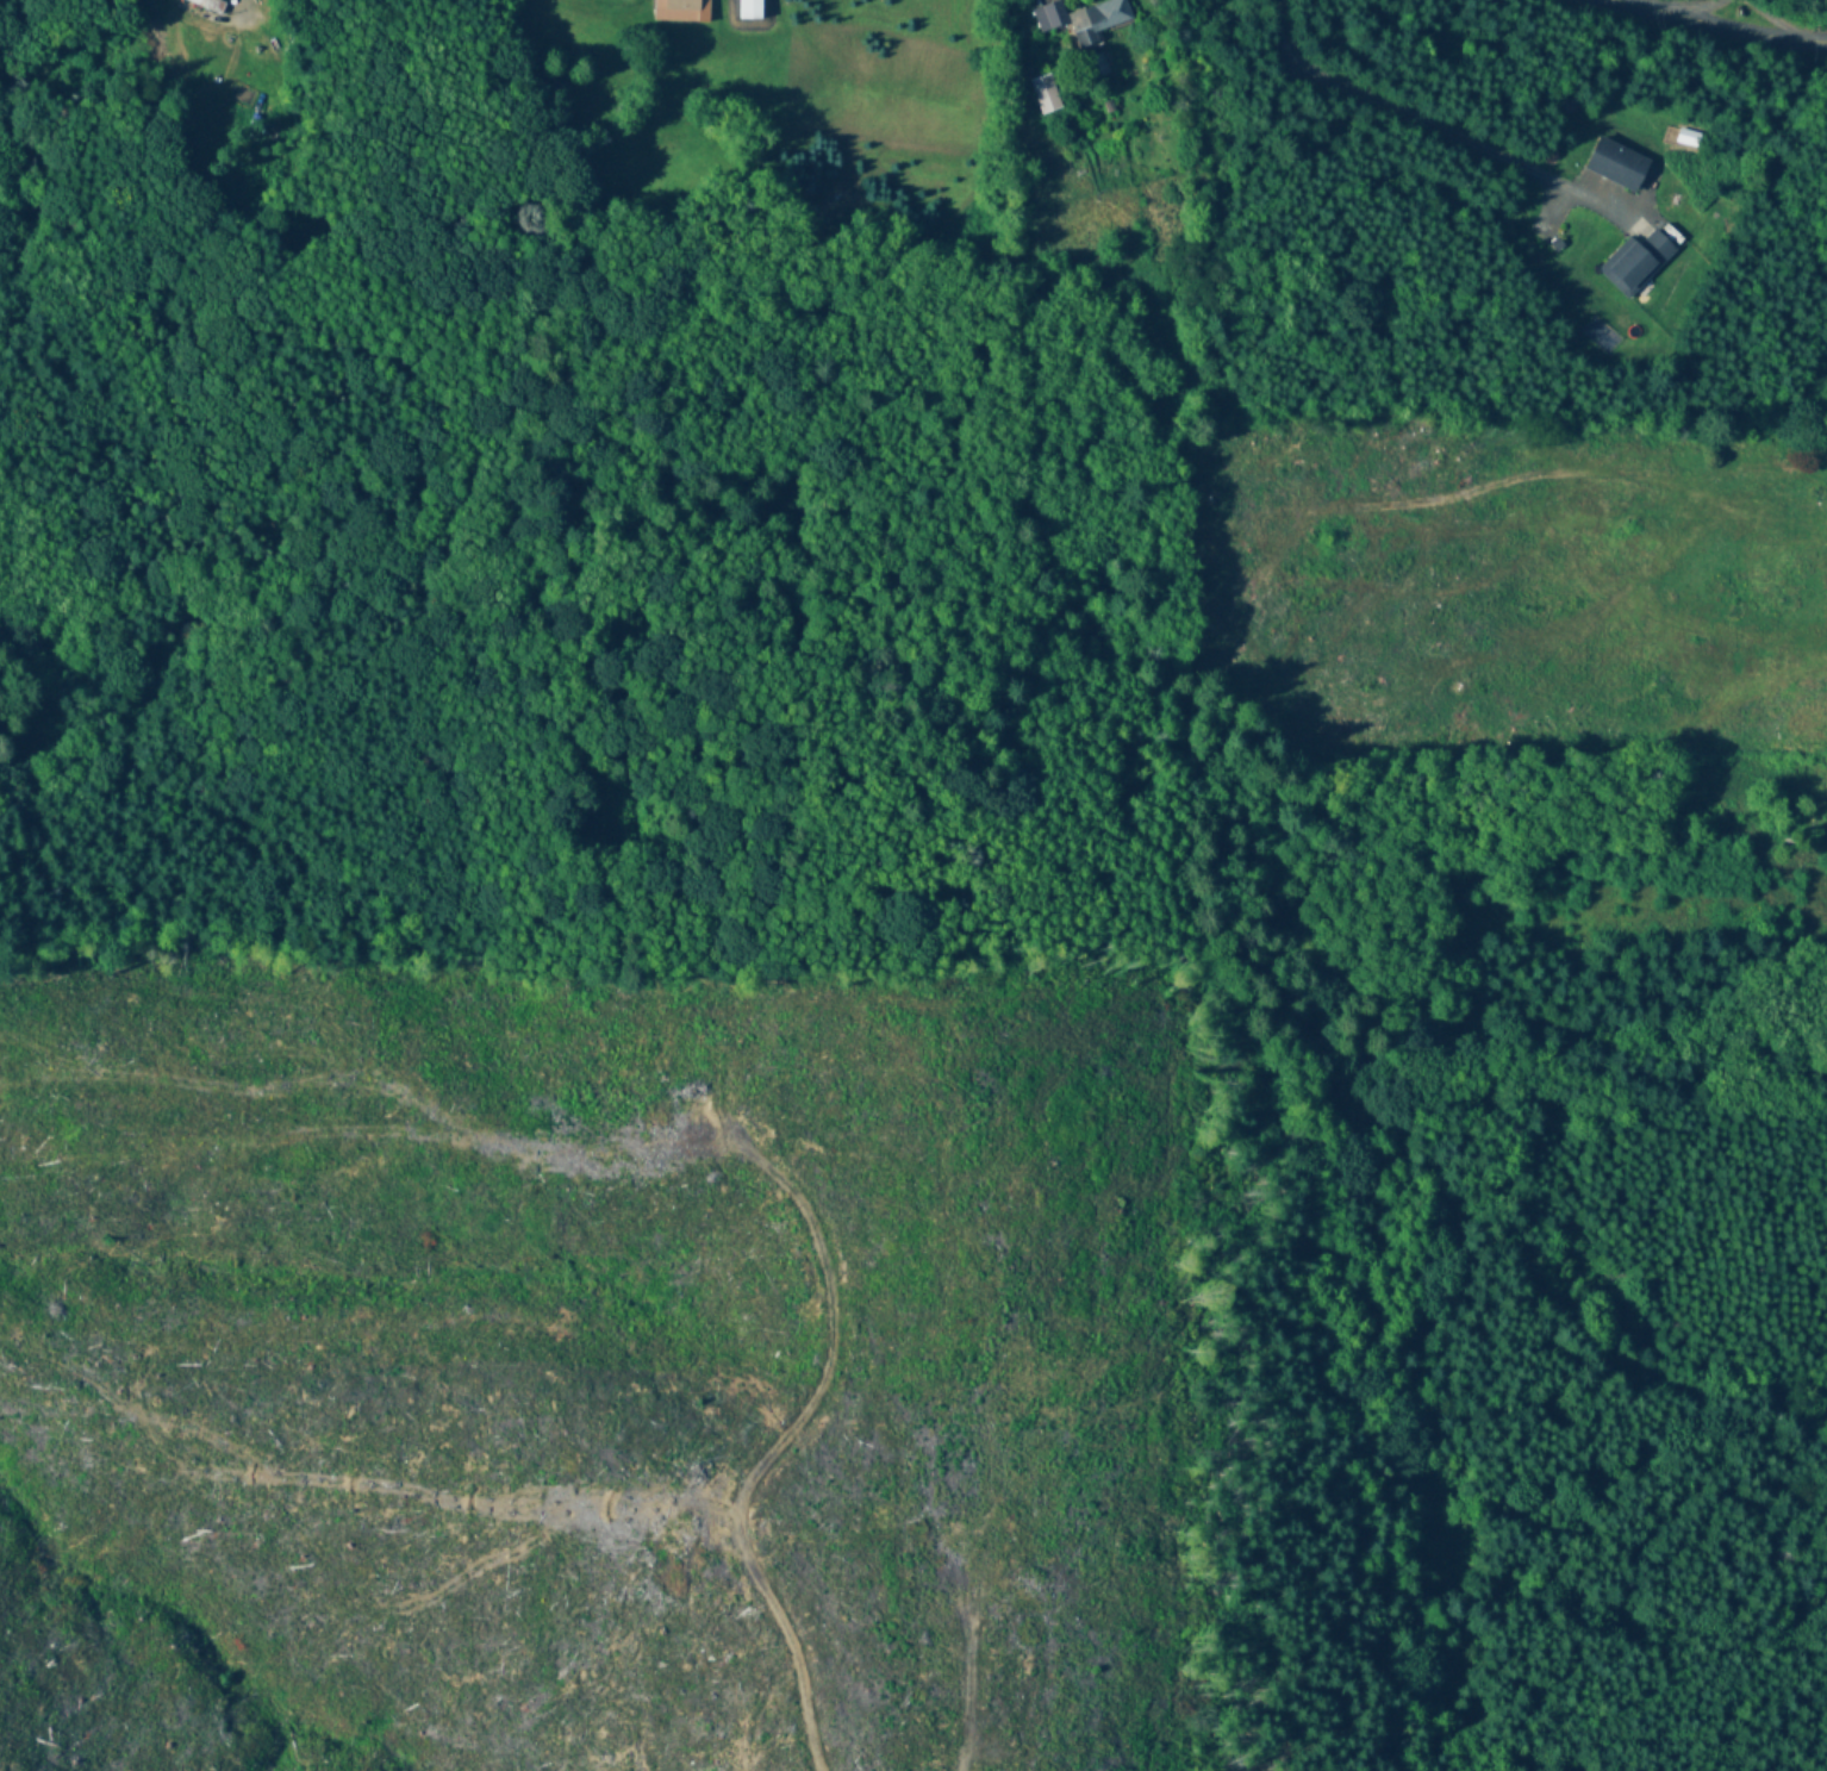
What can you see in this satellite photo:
building: (208, 5)
building: (685, 8)
building: (1084, 18)
road: (1740, 20)
building: (1096, 66)
building: (1046, 94)
building: (1617, 164)
building: (1639, 262)

